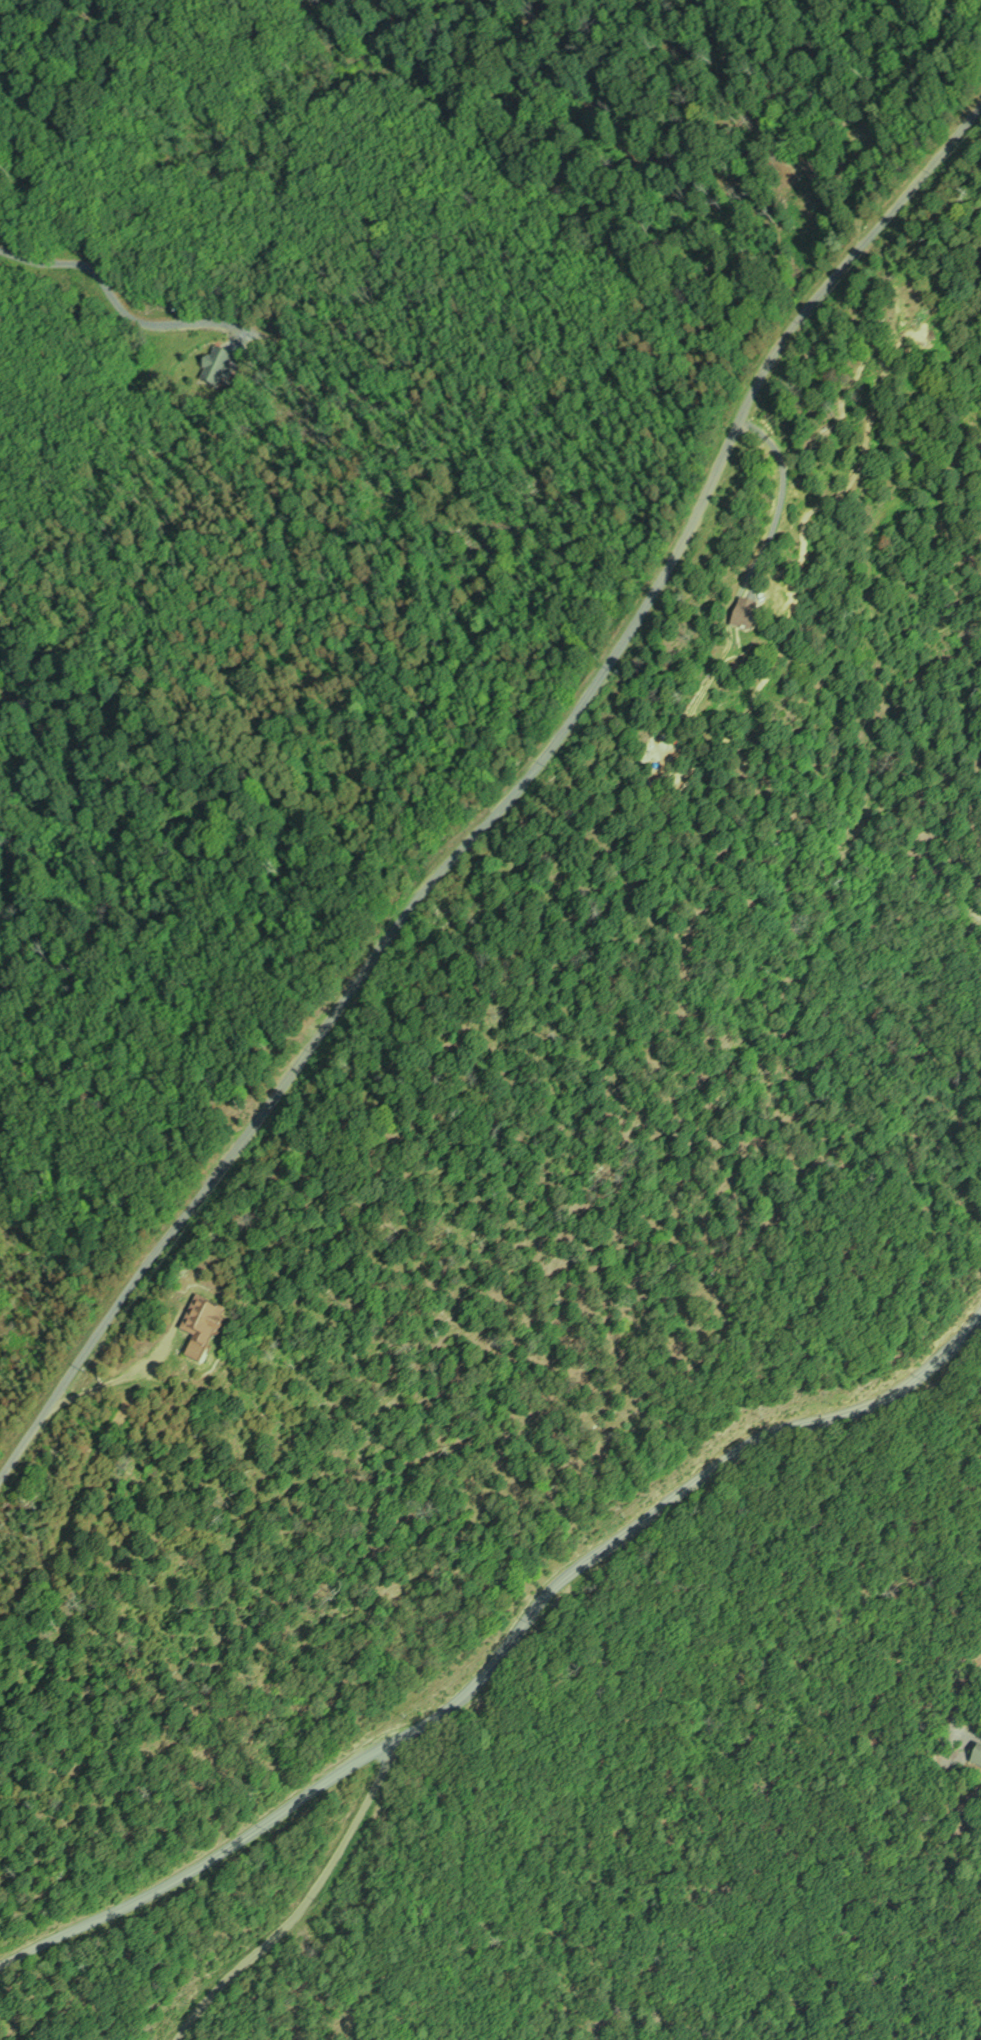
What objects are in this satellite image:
road: (106, 289)
building: (748, 616)
road: (515, 789)
building: (203, 1327)
road: (97, 1385)
road: (510, 1651)
road: (967, 1707)
building: (977, 1754)
road: (313, 1895)

